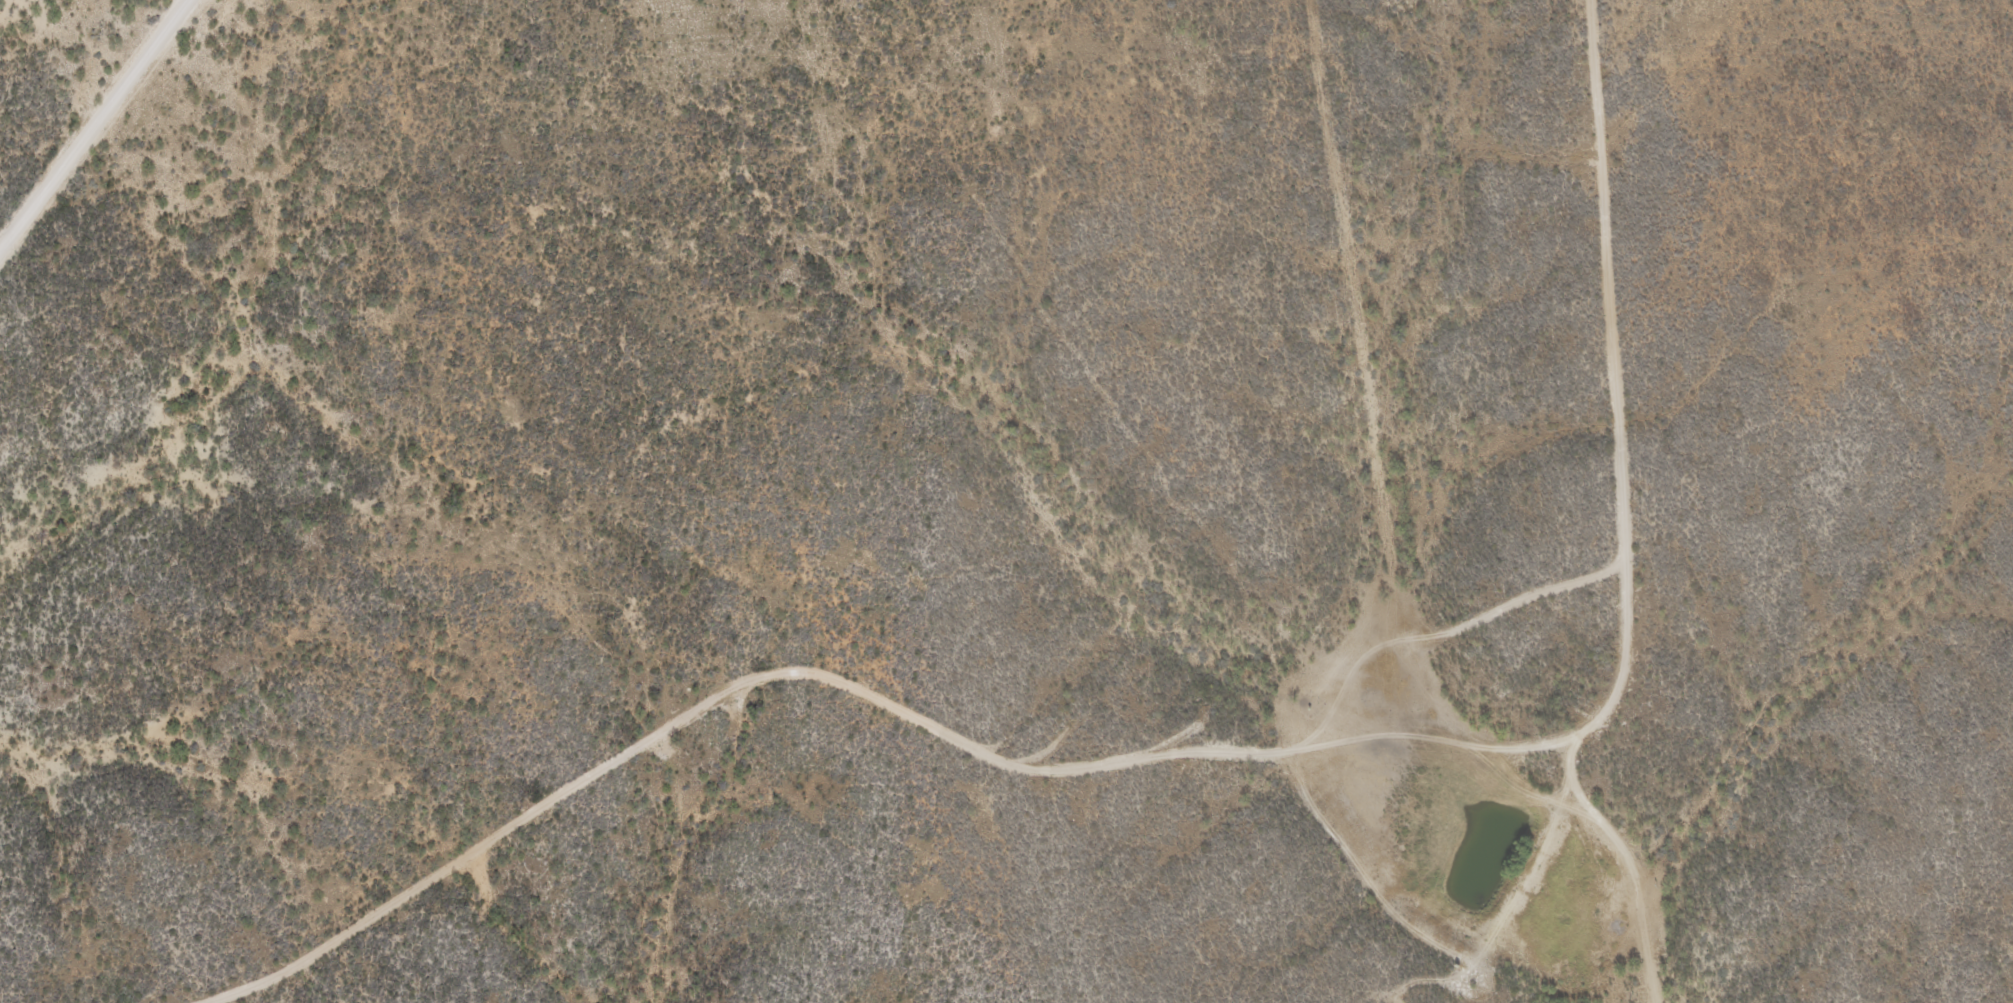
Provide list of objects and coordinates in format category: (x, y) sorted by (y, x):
road: (93, 119)
road: (1214, 751)
road: (1632, 852)
road: (1438, 907)

